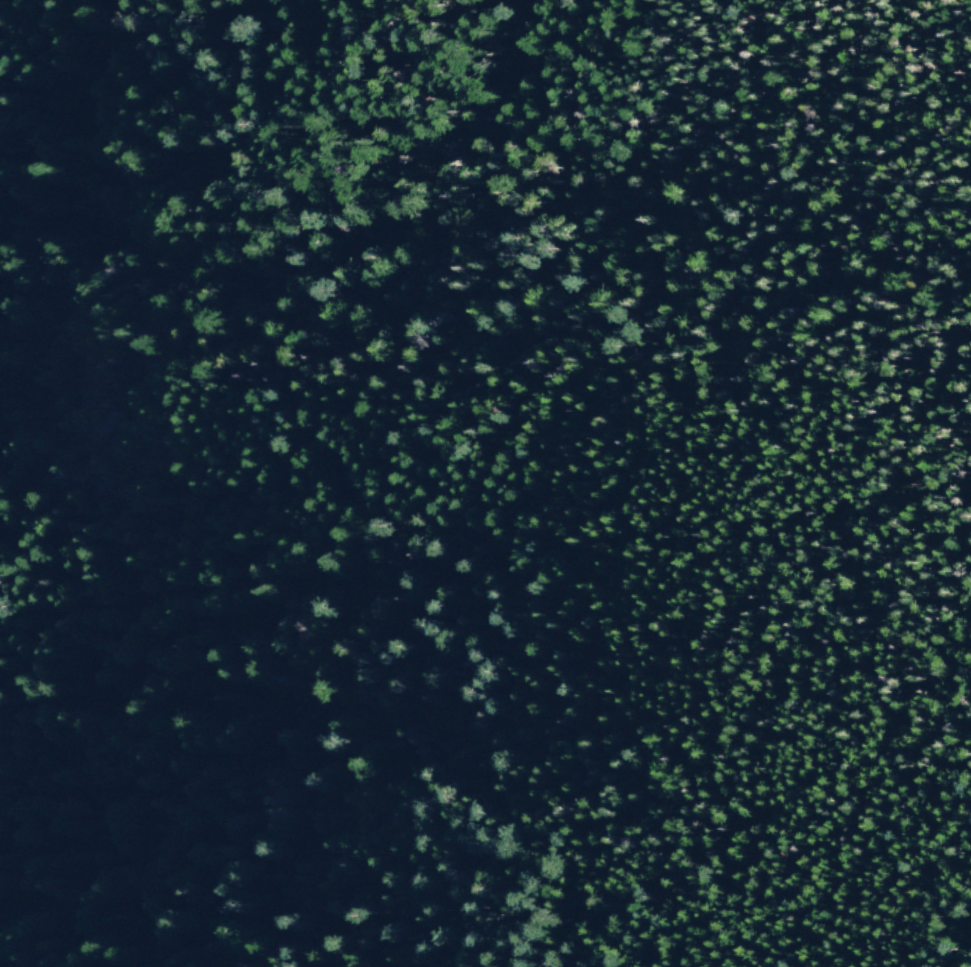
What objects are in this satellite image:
road: (871, 592)

